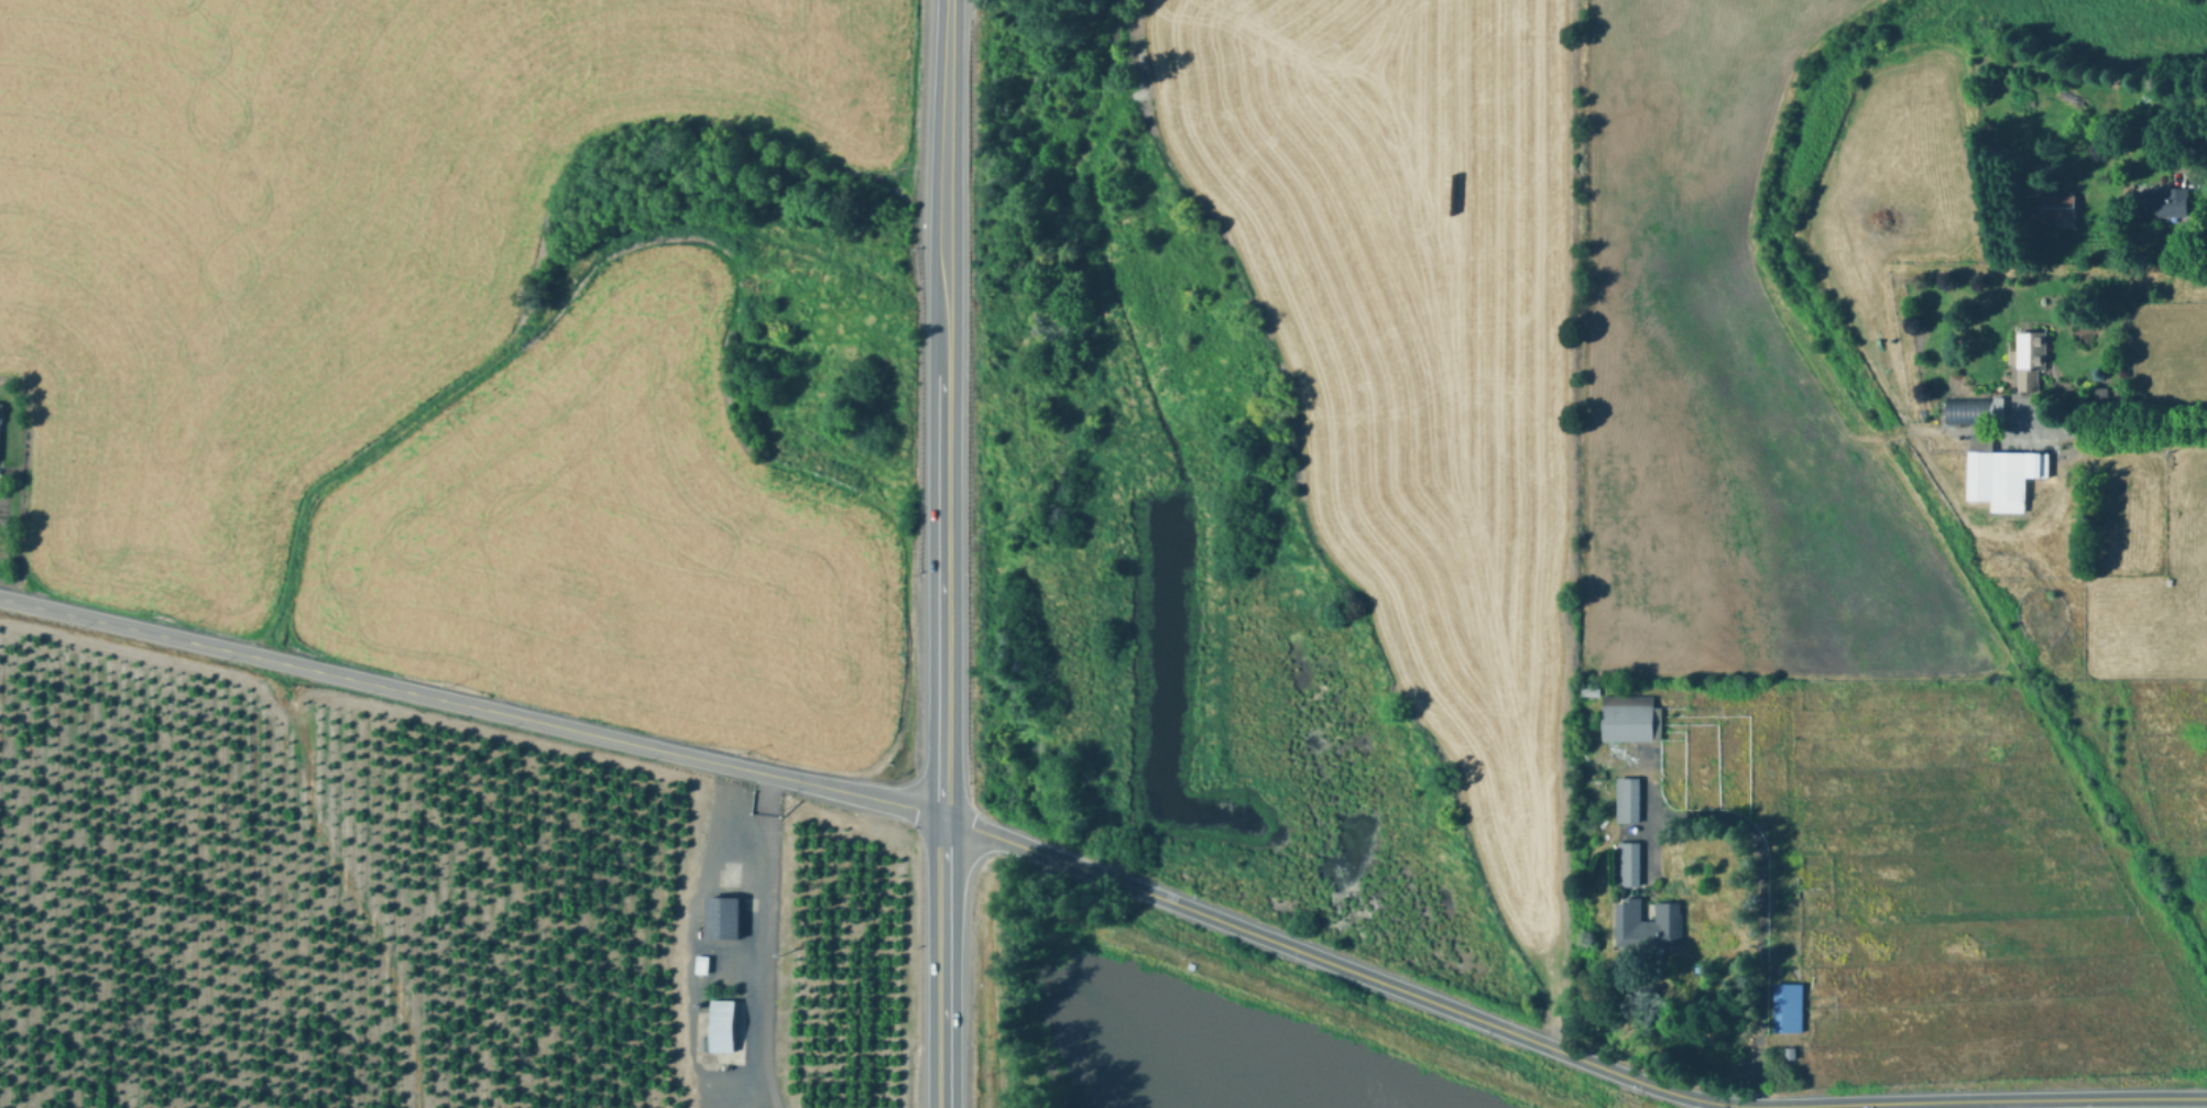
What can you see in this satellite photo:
road: (2141, 122)
building: (2161, 204)
building: (2061, 208)
crop: (438, 351)
building: (2031, 356)
building: (2102, 393)
building: (0, 408)
building: (1966, 413)
road: (2120, 428)
building: (2002, 473)
road: (944, 553)
road: (472, 704)
building: (1632, 718)
road: (1652, 775)
building: (1629, 800)
building: (1630, 864)
road: (1759, 882)
building: (1807, 889)
building: (721, 915)
building: (1649, 924)
road: (758, 942)
building: (700, 963)
building: (1790, 1007)
building: (720, 1024)
road: (1559, 1050)
building: (1791, 1053)
road: (2017, 1104)

